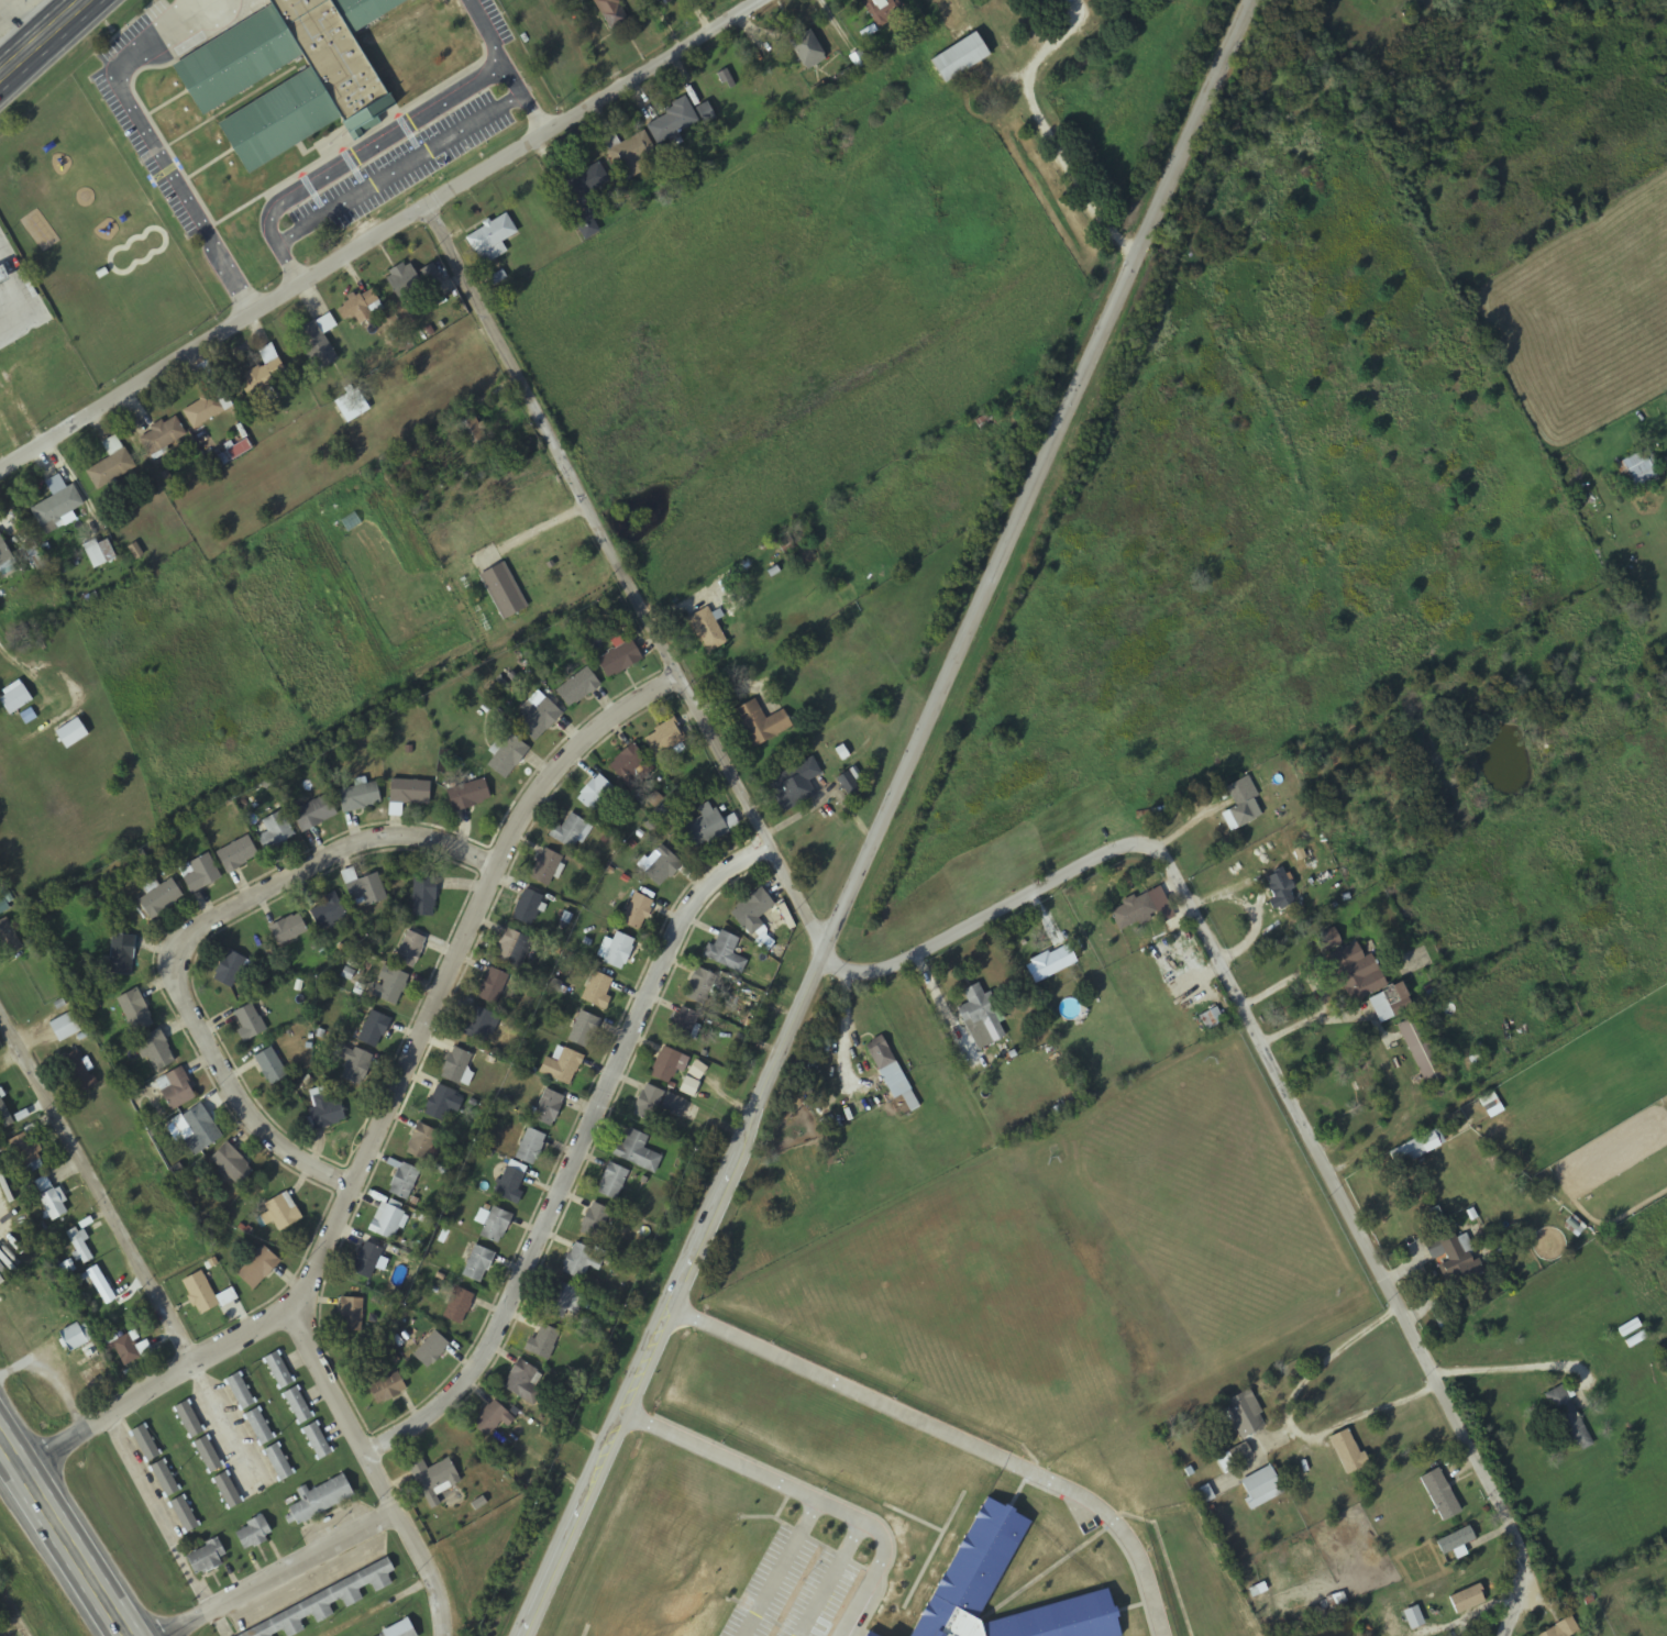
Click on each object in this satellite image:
building: (662, 2)
building: (1063, 2)
building: (365, 10)
building: (884, 11)
building: (612, 12)
road: (343, 15)
parking lot: (497, 21)
parking lot: (130, 30)
road: (145, 31)
road: (487, 33)
road: (175, 36)
parking lot: (189, 42)
road: (47, 43)
building: (806, 48)
building: (959, 57)
building: (333, 77)
building: (725, 77)
road: (132, 90)
road: (167, 101)
road: (230, 104)
road: (395, 110)
building: (671, 118)
road: (407, 131)
road: (387, 136)
road: (355, 139)
parking lot: (415, 142)
road: (312, 146)
building: (630, 148)
parking lot: (144, 154)
parking lot: (388, 157)
road: (208, 163)
road: (351, 164)
road: (397, 169)
parking lot: (417, 175)
parking lot: (358, 176)
building: (589, 177)
road: (310, 188)
road: (184, 192)
parking lot: (318, 200)
road: (379, 235)
building: (490, 246)
building: (406, 283)
building: (358, 303)
building: (314, 344)
building: (261, 375)
building: (36, 378)
building: (353, 405)
building: (202, 408)
building: (3, 420)
building: (986, 423)
building: (163, 434)
building: (474, 436)
building: (110, 467)
building: (1638, 471)
building: (57, 508)
building: (790, 539)
building: (4, 552)
building: (31, 552)
building: (100, 553)
building: (504, 592)
building: (707, 631)
building: (620, 660)
building: (578, 688)
building: (15, 699)
building: (541, 720)
building: (762, 725)
building: (665, 740)
building: (508, 758)
building: (631, 766)
building: (795, 785)
building: (411, 793)
building: (596, 794)
building: (470, 796)
building: (361, 797)
building: (1240, 805)
building: (316, 814)
road: (893, 817)
building: (710, 826)
building: (277, 831)
building: (570, 832)
building: (238, 855)
building: (548, 869)
building: (663, 869)
building: (201, 874)
building: (365, 888)
building: (1280, 888)
building: (424, 897)
building: (163, 899)
building: (529, 908)
road: (1013, 909)
building: (330, 911)
building: (1131, 911)
building: (638, 913)
building: (753, 914)
building: (290, 930)
road: (190, 935)
building: (9, 940)
building: (411, 950)
building: (512, 951)
building: (620, 952)
building: (726, 953)
building: (123, 957)
building: (1052, 964)
building: (231, 970)
building: (1353, 972)
building: (391, 986)
building: (702, 986)
building: (494, 987)
building: (599, 991)
building: (1380, 1008)
building: (136, 1013)
building: (982, 1014)
building: (1211, 1019)
building: (251, 1025)
building: (481, 1025)
building: (684, 1026)
building: (66, 1028)
building: (375, 1030)
building: (585, 1030)
building: (1421, 1051)
building: (157, 1052)
building: (356, 1064)
building: (670, 1064)
building: (75, 1065)
building: (561, 1068)
building: (893, 1076)
building: (689, 1087)
building: (176, 1090)
building: (443, 1104)
building: (658, 1104)
road: (385, 1108)
building: (549, 1108)
building: (328, 1114)
building: (5, 1116)
building: (199, 1131)
building: (424, 1145)
building: (531, 1147)
building: (1415, 1149)
building: (637, 1151)
building: (29, 1153)
road: (583, 1154)
building: (126, 1161)
building: (234, 1165)
building: (405, 1182)
building: (614, 1182)
building: (512, 1183)
building: (51, 1198)
building: (285, 1212)
building: (595, 1222)
building: (389, 1223)
building: (496, 1226)
road: (126, 1243)
building: (81, 1247)
building: (1450, 1256)
building: (368, 1261)
building: (583, 1261)
building: (478, 1265)
building: (260, 1269)
building: (101, 1286)
building: (206, 1295)
building: (562, 1301)
building: (460, 1307)
building: (352, 1316)
building: (1038, 1335)
building: (77, 1338)
building: (544, 1344)
building: (432, 1350)
building: (126, 1351)
building: (91, 1357)
building: (279, 1371)
building: (522, 1383)
building: (389, 1390)
building: (241, 1392)
building: (298, 1406)
building: (1244, 1414)
building: (1042, 1415)
building: (493, 1419)
building: (1567, 1419)
building: (189, 1421)
building: (261, 1427)
road: (962, 1436)
building: (318, 1442)
building: (146, 1445)
building: (1347, 1451)
building: (208, 1456)
building: (1233, 1457)
building: (279, 1463)
road: (385, 1470)
building: (435, 1478)
building: (166, 1480)
building: (1260, 1485)
building: (228, 1491)
road: (815, 1492)
building: (1438, 1494)
building: (321, 1500)
road: (161, 1515)
building: (185, 1515)
building: (254, 1534)
road: (62, 1537)
building: (1453, 1541)
building: (207, 1558)
building: (997, 1558)
road: (790, 1567)
road: (291, 1572)
road: (842, 1578)
building: (1466, 1600)
building: (322, 1605)
building: (1560, 1629)
building: (404, 1632)

